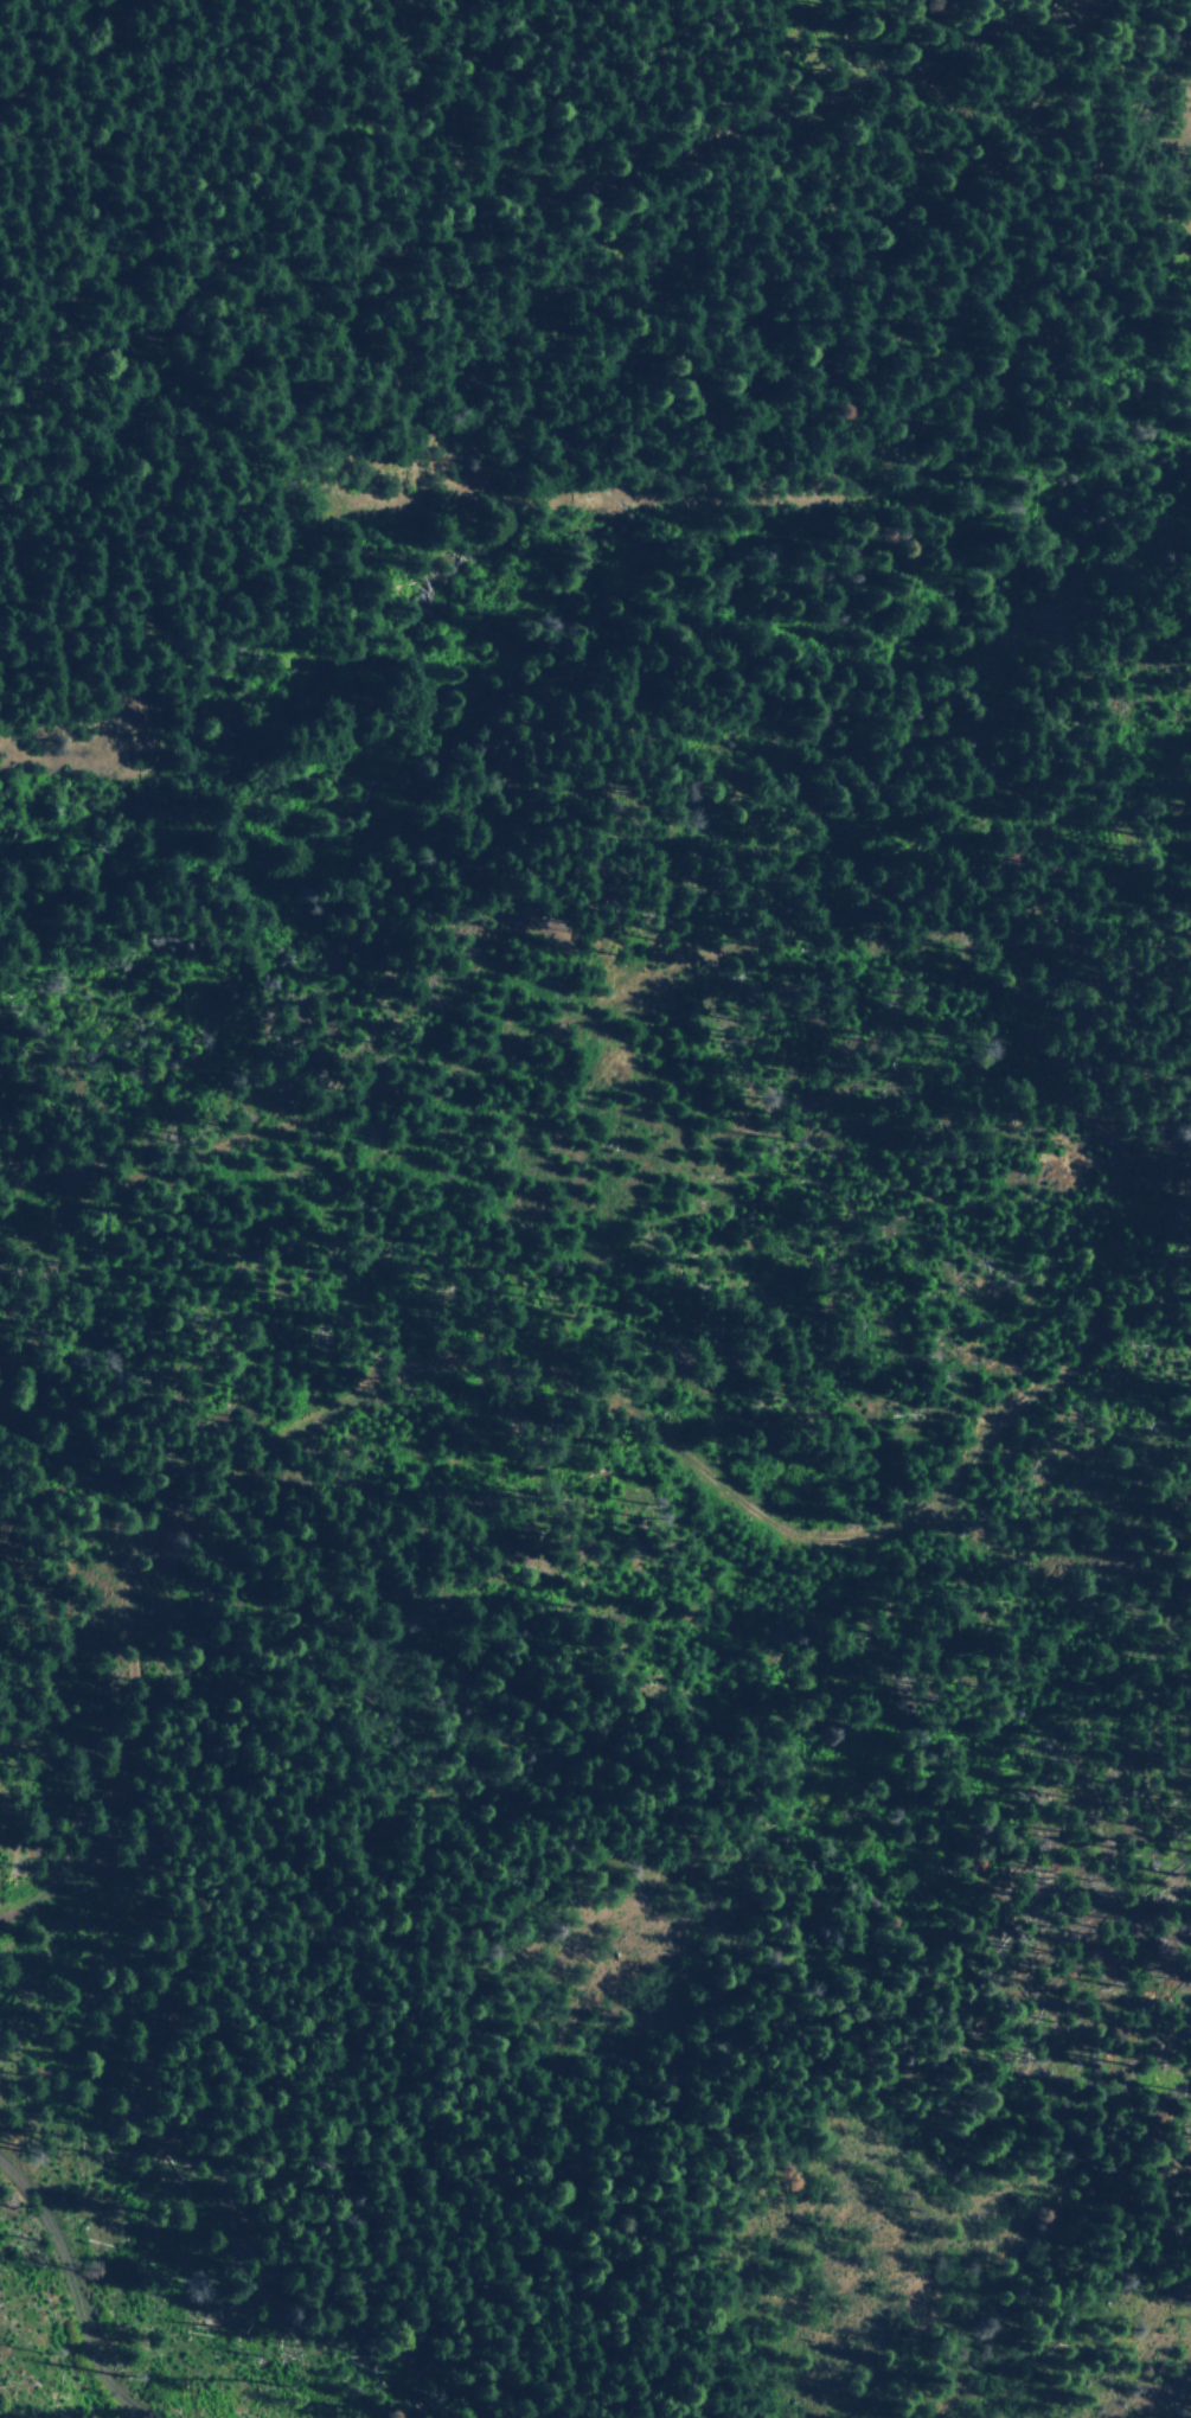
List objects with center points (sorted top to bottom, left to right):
road: (588, 223)
road: (598, 578)
road: (64, 2249)

